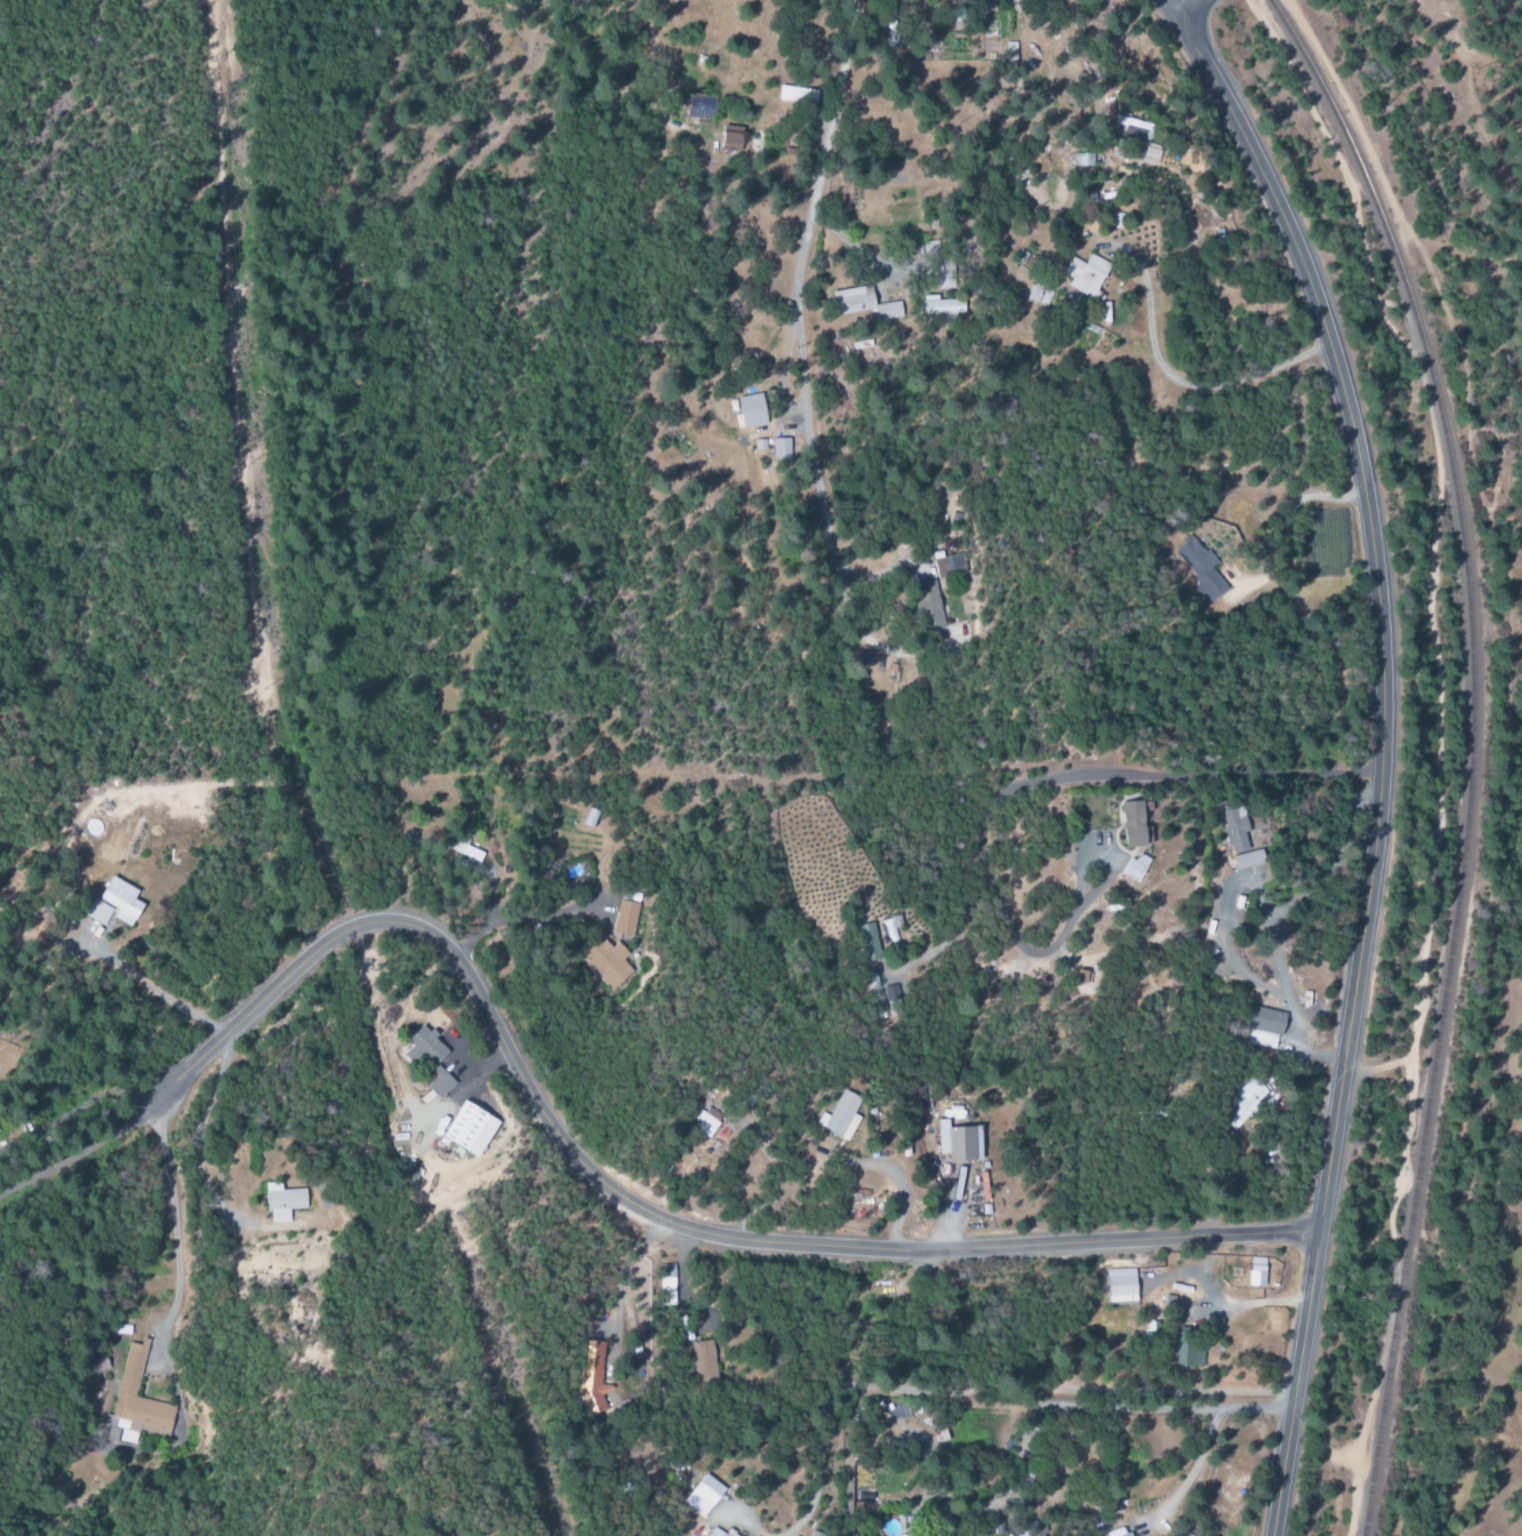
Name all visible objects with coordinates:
road: (1175, 8)
road: (653, 43)
building: (797, 94)
building: (698, 106)
building: (1132, 129)
building: (730, 140)
building: (1150, 156)
building: (1082, 159)
building: (1170, 163)
building: (1086, 277)
building: (864, 304)
building: (940, 305)
building: (750, 411)
building: (781, 449)
building: (947, 564)
building: (1201, 568)
building: (928, 604)
railway: (1470, 752)
road: (1379, 756)
building: (590, 818)
building: (1133, 823)
building: (1239, 839)
building: (463, 850)
building: (1136, 866)
building: (114, 905)
building: (625, 918)
building: (868, 941)
building: (605, 964)
building: (1082, 976)
building: (1266, 1028)
building: (432, 1059)
building: (1245, 1102)
building: (842, 1116)
building: (705, 1120)
building: (470, 1129)
building: (959, 1142)
building: (283, 1201)
road: (631, 1204)
building: (1257, 1272)
building: (667, 1285)
building: (1122, 1286)
building: (1187, 1351)
building: (704, 1361)
building: (592, 1378)
building: (136, 1403)
building: (704, 1495)

